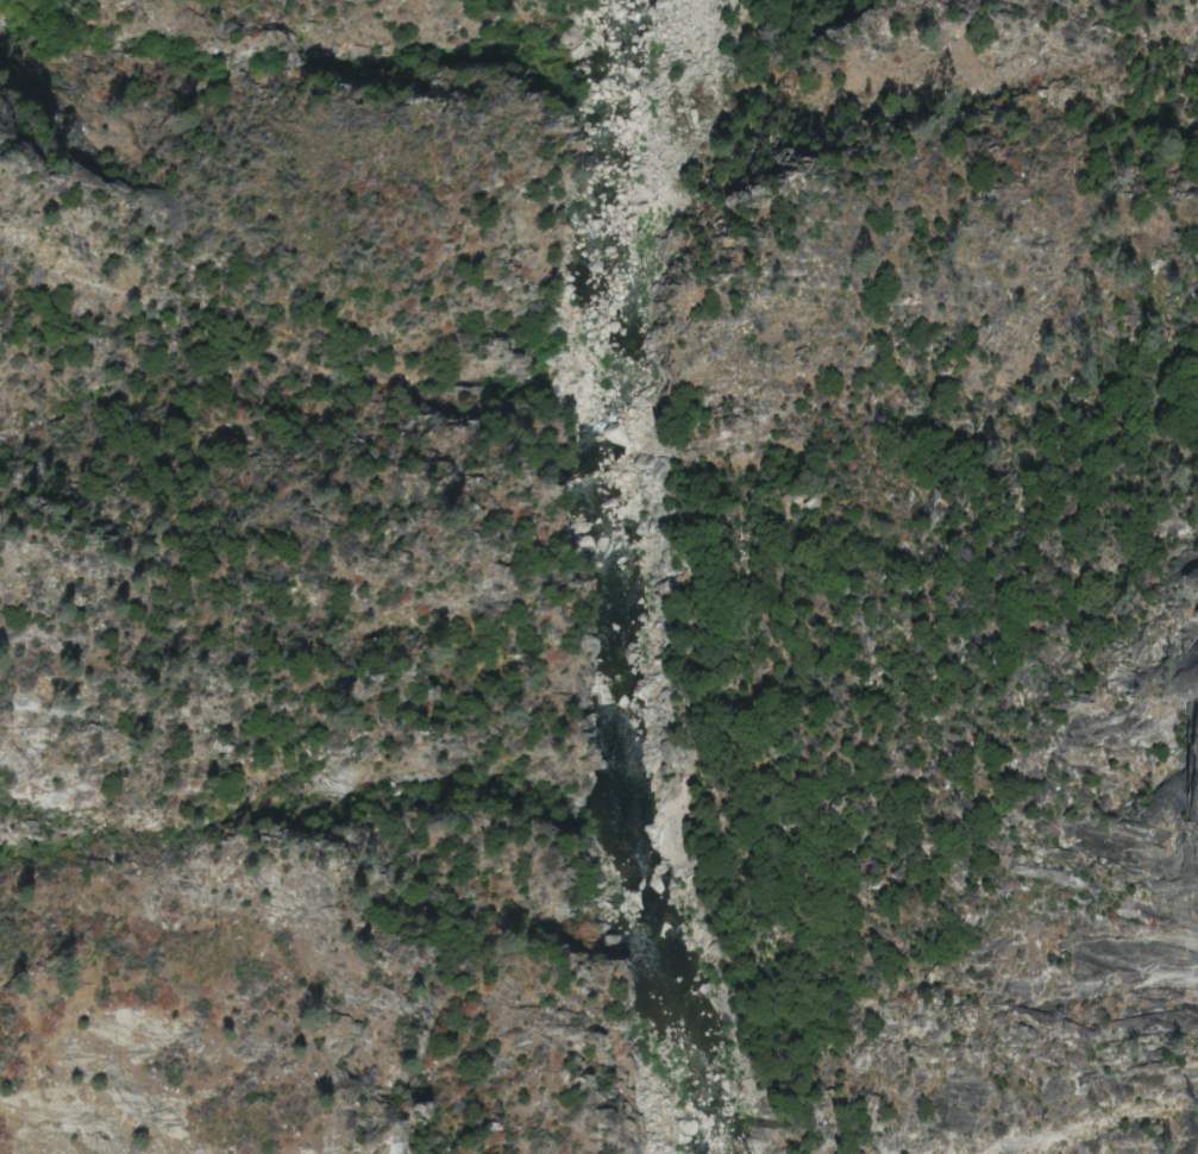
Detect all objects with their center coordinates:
river: (619, 579)

